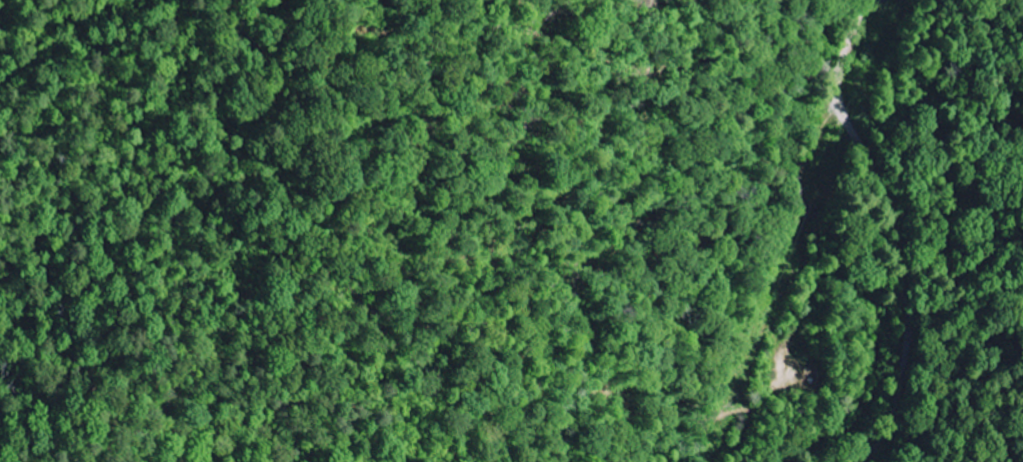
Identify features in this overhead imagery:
road: (843, 89)
road: (905, 322)

